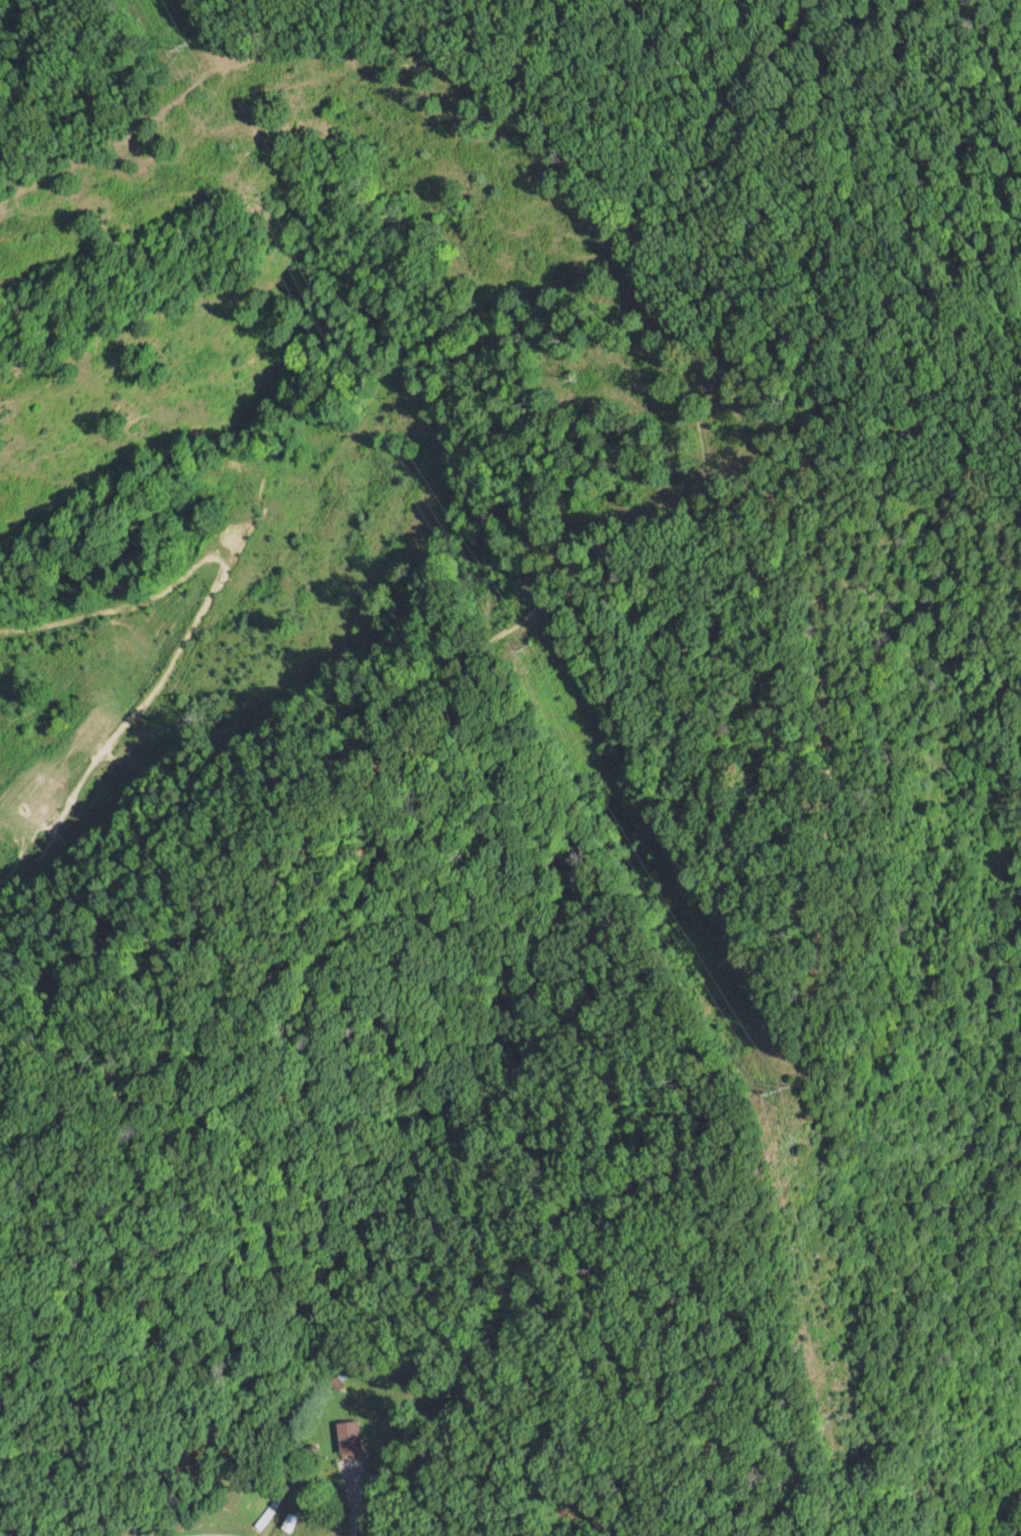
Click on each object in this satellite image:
road: (41, 962)
road: (318, 1344)
building: (349, 1436)

